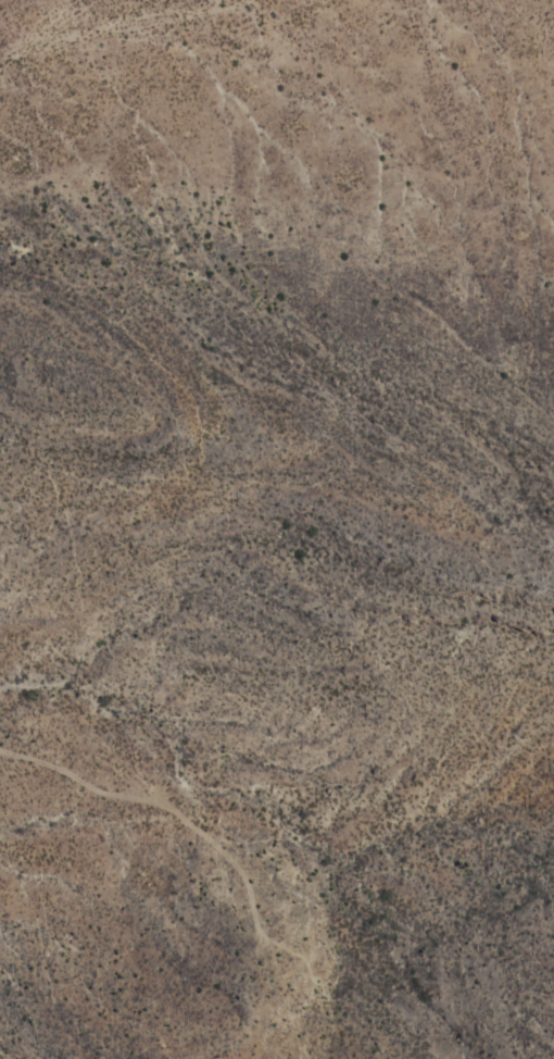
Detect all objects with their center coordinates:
road: (153, 798)

